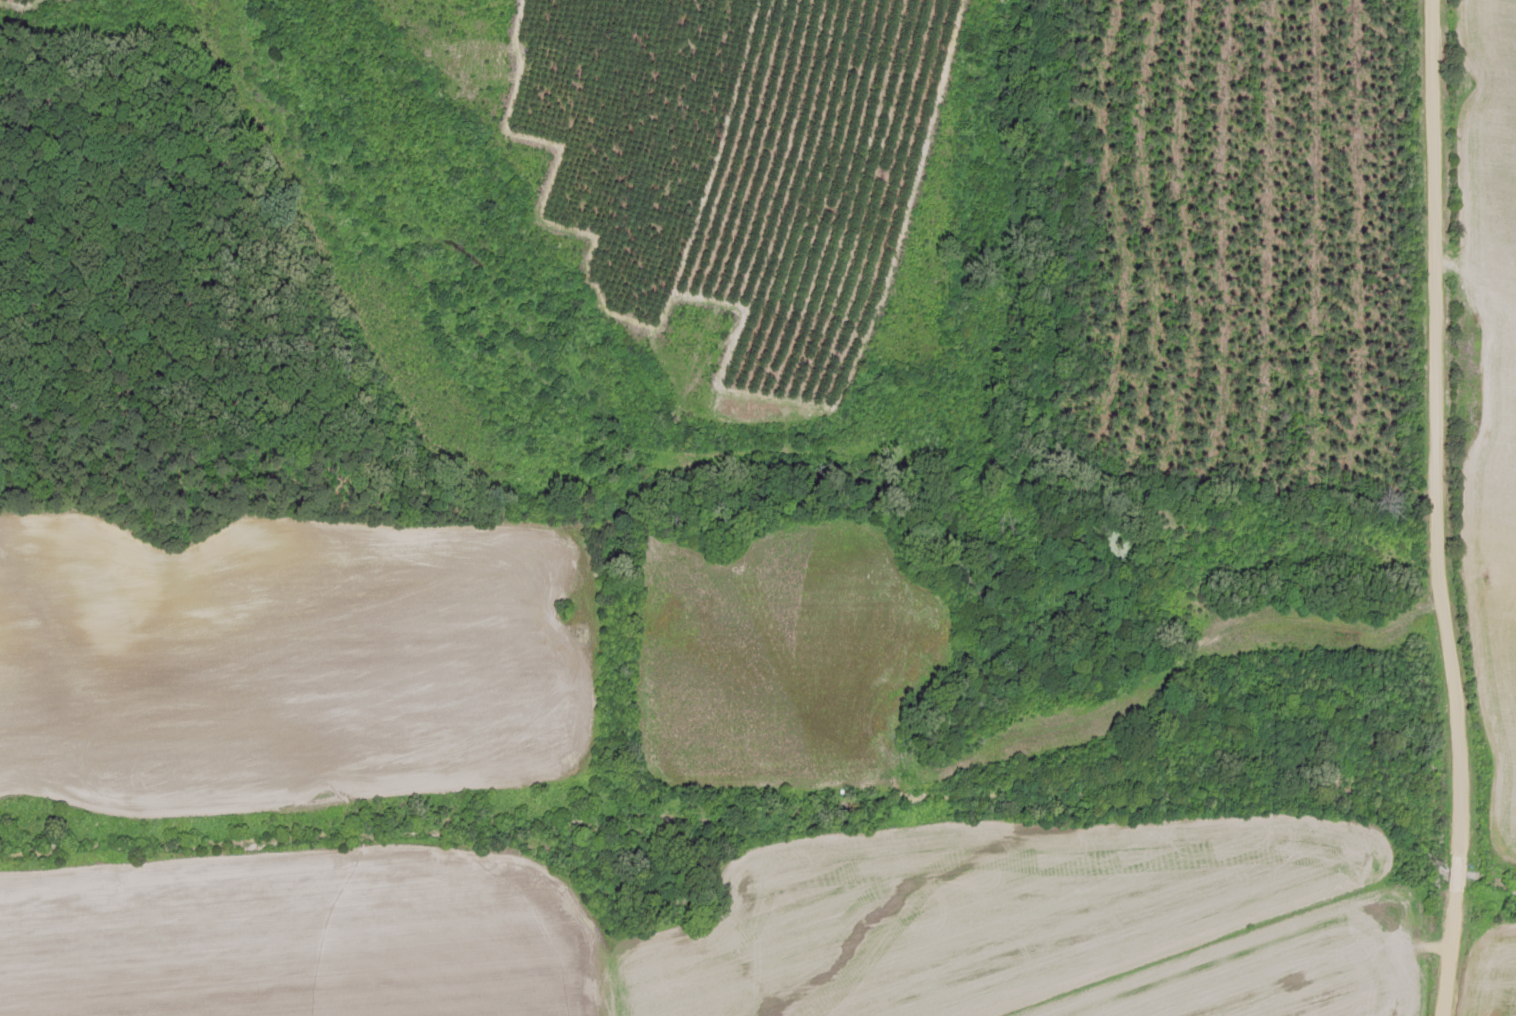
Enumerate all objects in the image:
road: (1431, 430)
road: (1451, 880)
road: (1444, 958)

